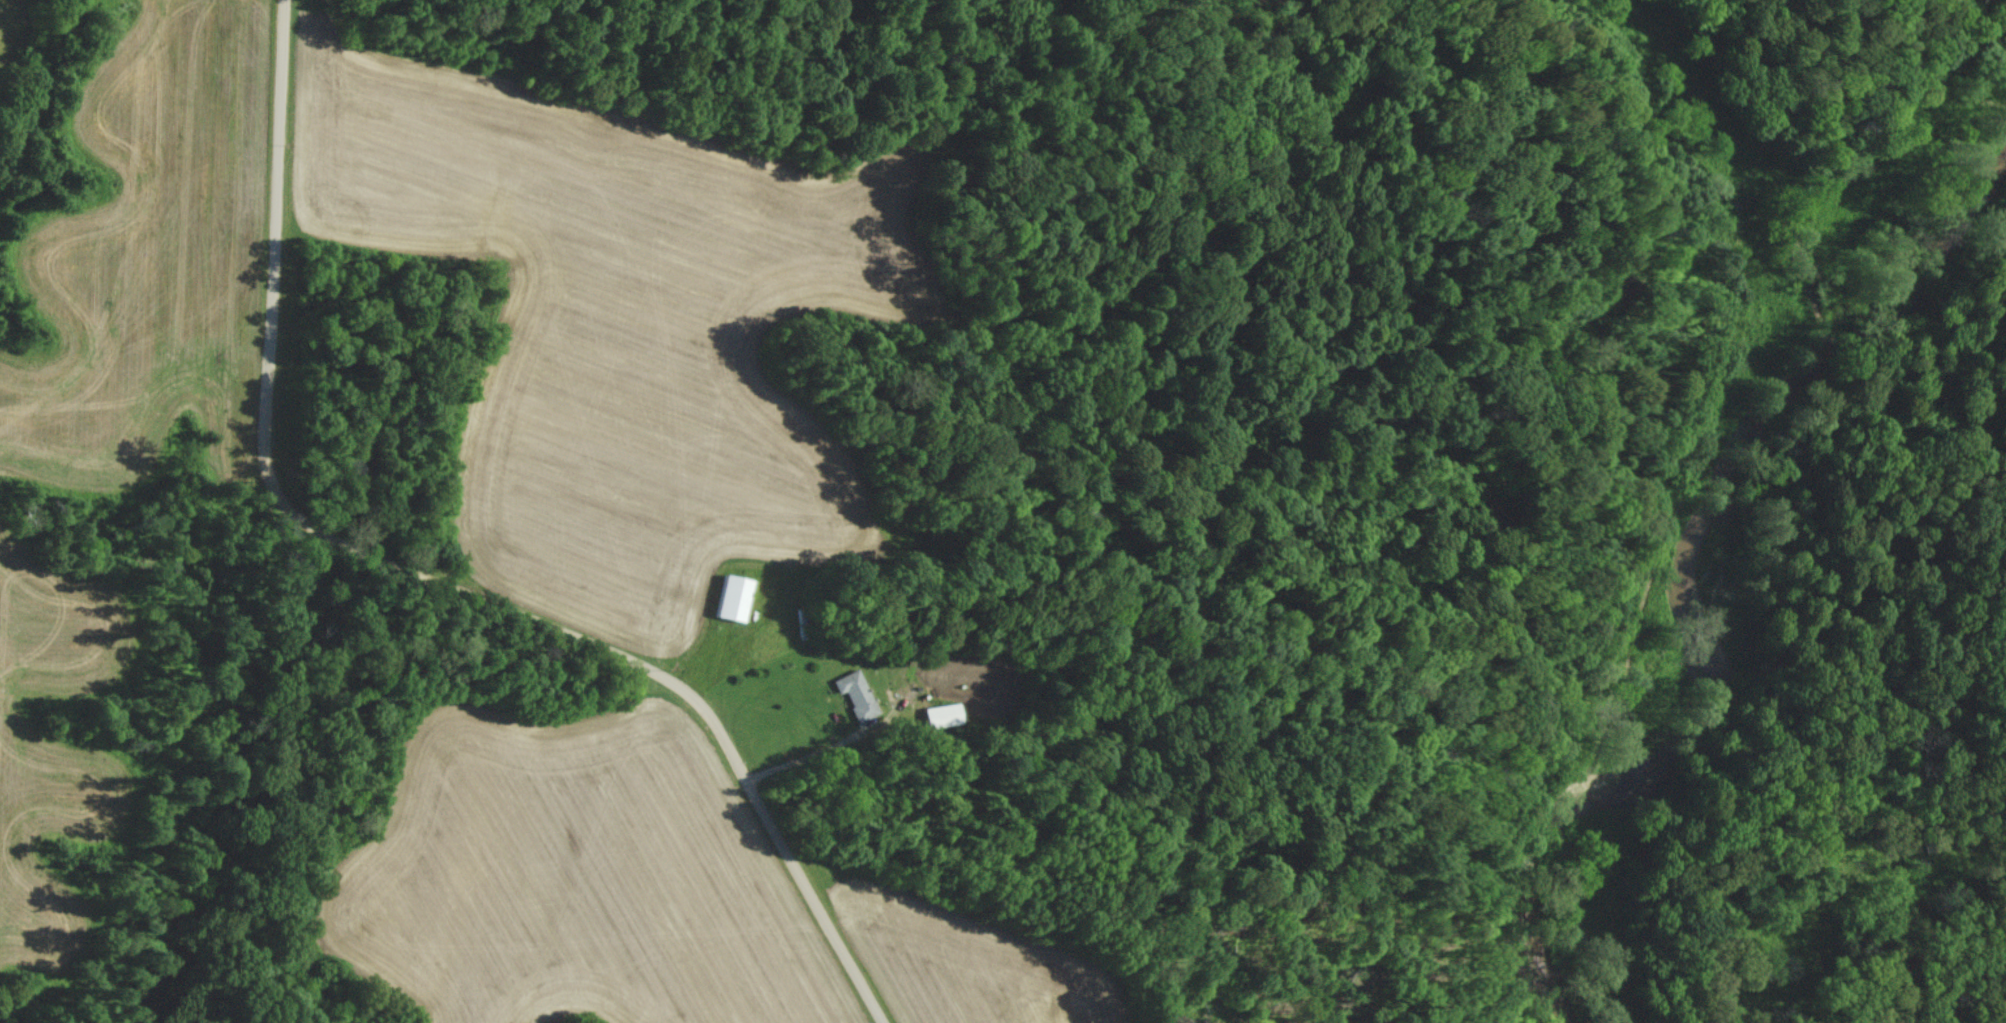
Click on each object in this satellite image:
road: (414, 580)
building: (730, 596)
building: (856, 694)
building: (942, 715)

